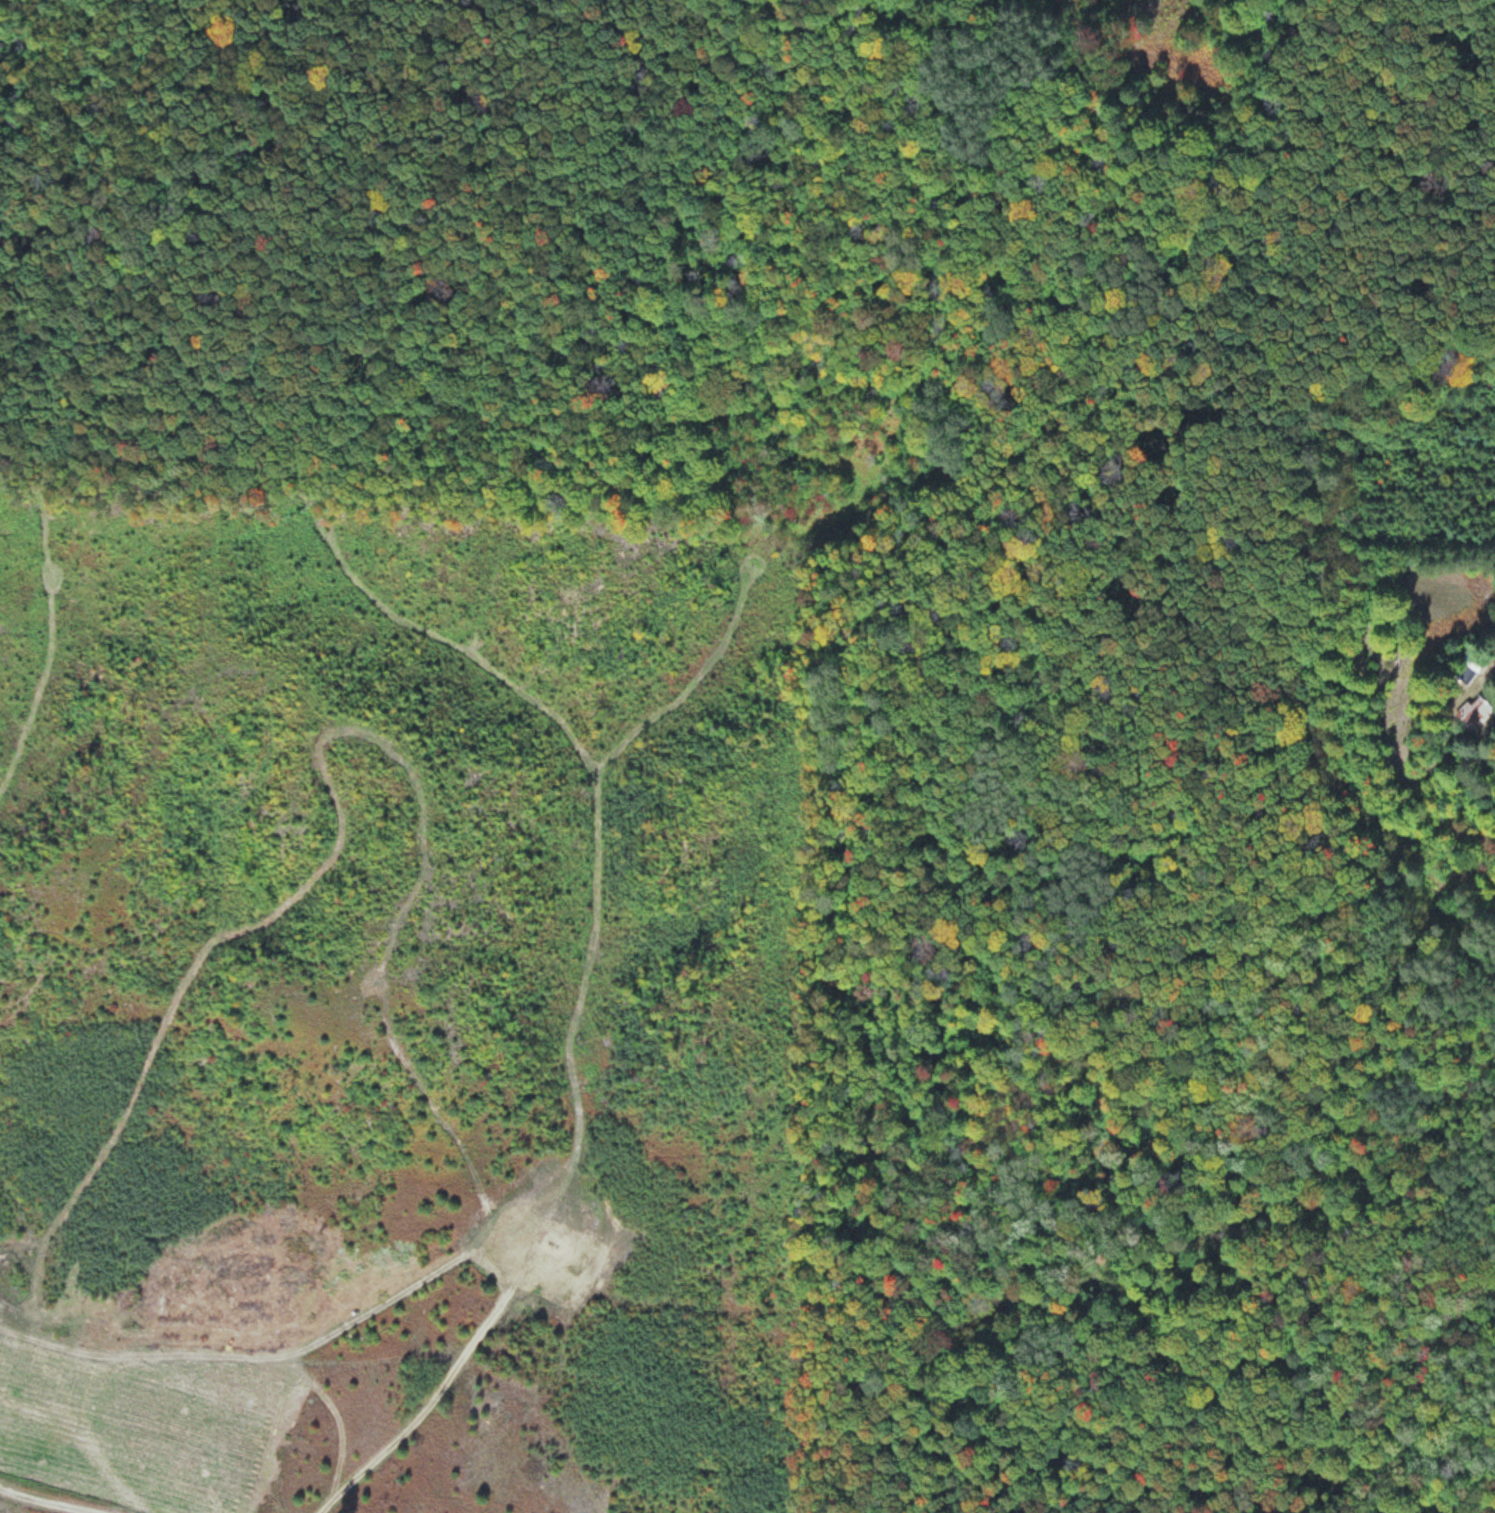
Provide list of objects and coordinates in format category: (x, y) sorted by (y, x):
building: (1468, 668)
building: (1472, 711)

